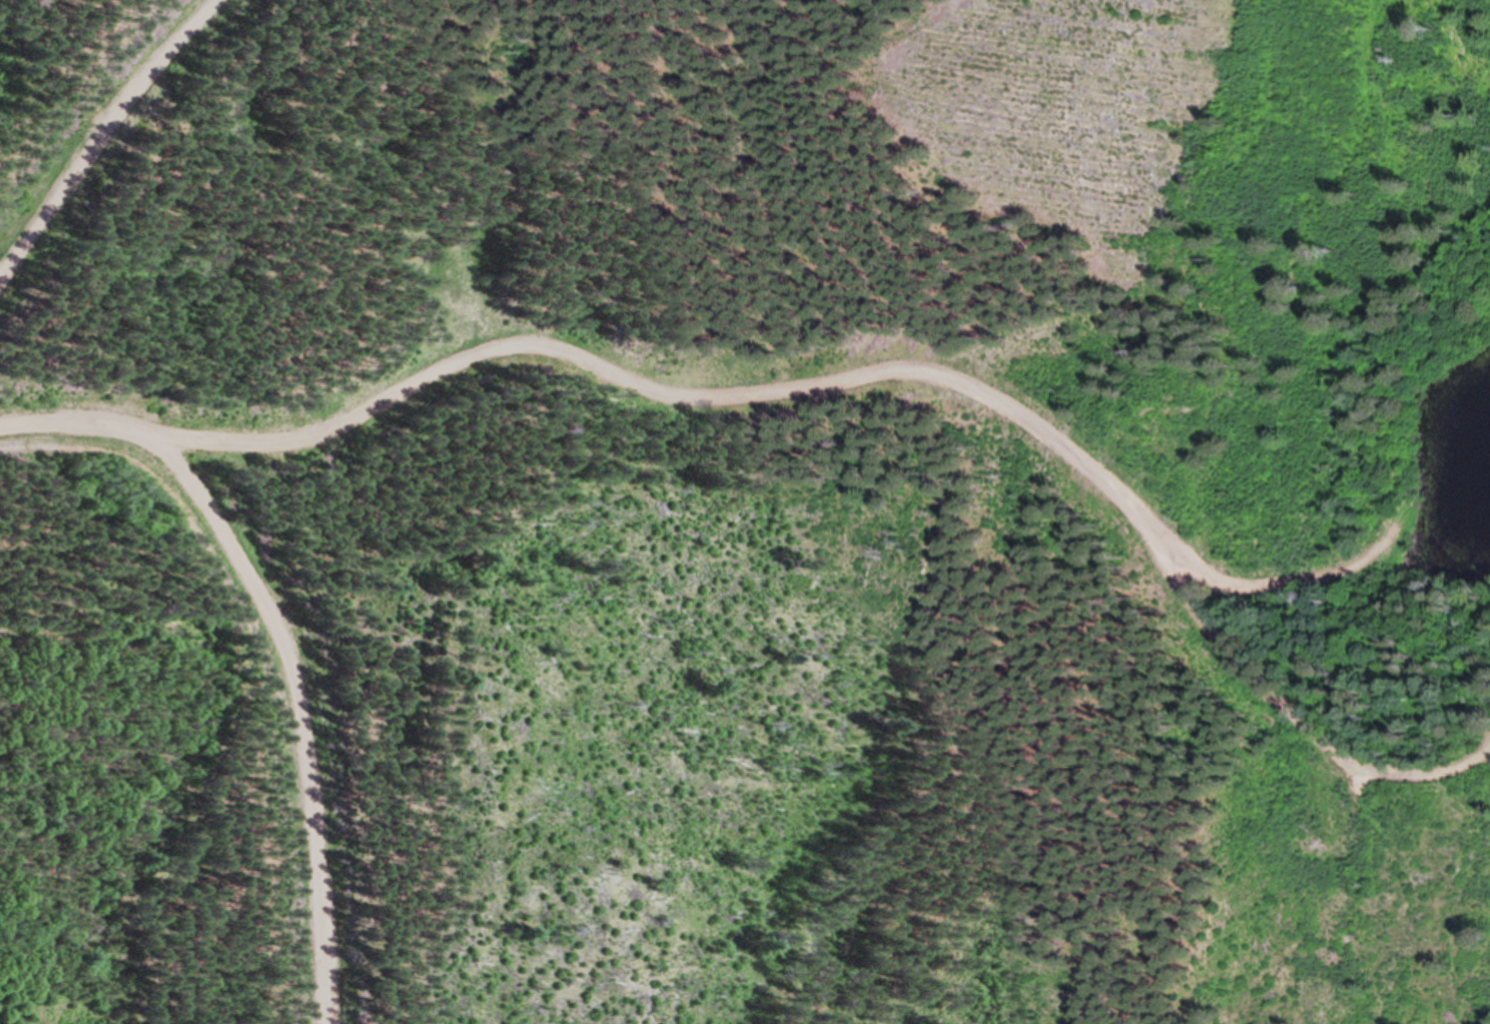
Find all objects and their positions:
road: (99, 130)
road: (704, 395)
road: (251, 660)
road: (1282, 702)
road: (288, 721)

